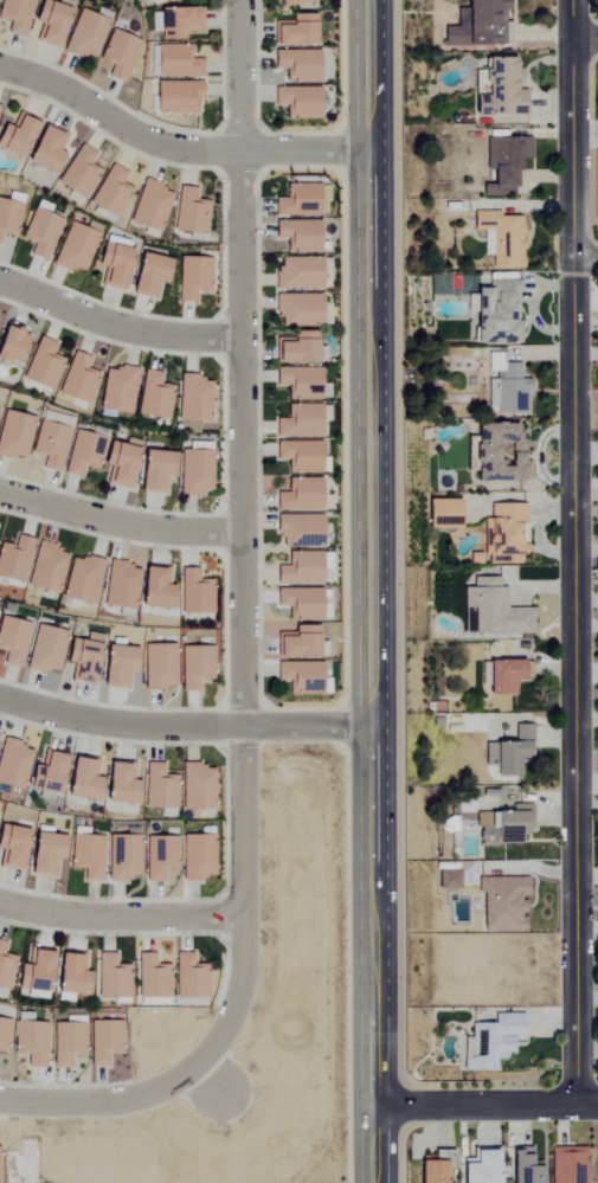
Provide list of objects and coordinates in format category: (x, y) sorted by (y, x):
building: (155, 1)
building: (291, 2)
building: (14, 15)
building: (47, 22)
building: (178, 22)
building: (480, 26)
building: (292, 31)
building: (84, 36)
road: (585, 37)
building: (117, 54)
building: (176, 62)
building: (296, 65)
road: (238, 75)
road: (366, 75)
building: (175, 97)
building: (296, 102)
building: (15, 136)
road: (173, 148)
building: (44, 152)
building: (504, 165)
building: (78, 173)
building: (110, 193)
building: (301, 201)
building: (149, 206)
building: (188, 212)
building: (9, 214)
building: (39, 233)
building: (296, 236)
building: (73, 249)
road: (585, 259)
building: (111, 265)
building: (147, 275)
building: (296, 275)
building: (191, 278)
building: (296, 309)
building: (493, 311)
road: (117, 317)
building: (9, 342)
building: (294, 347)
building: (41, 364)
building: (77, 378)
building: (117, 388)
building: (506, 390)
building: (154, 396)
building: (193, 398)
building: (297, 420)
building: (13, 433)
road: (239, 439)
building: (47, 444)
building: (500, 451)
building: (81, 452)
building: (298, 455)
building: (118, 462)
building: (193, 468)
building: (153, 469)
building: (298, 495)
building: (443, 514)
road: (118, 522)
building: (297, 531)
building: (503, 533)
road: (572, 552)
building: (13, 559)
building: (45, 567)
building: (298, 568)
building: (79, 579)
building: (120, 587)
building: (154, 587)
building: (194, 592)
building: (300, 602)
building: (494, 609)
building: (12, 641)
building: (296, 642)
building: (44, 649)
building: (81, 657)
building: (116, 663)
building: (157, 666)
building: (193, 666)
road: (368, 667)
building: (298, 676)
building: (502, 676)
road: (120, 724)
road: (304, 728)
building: (506, 741)
building: (12, 764)
building: (45, 774)
building: (81, 779)
building: (118, 783)
building: (195, 786)
building: (157, 787)
building: (482, 821)
building: (507, 827)
building: (11, 847)
building: (43, 850)
building: (84, 854)
building: (157, 856)
building: (195, 856)
building: (121, 857)
road: (240, 886)
building: (501, 904)
road: (118, 918)
building: (5, 967)
building: (33, 973)
building: (69, 977)
building: (110, 977)
building: (152, 977)
building: (188, 977)
building: (2, 1035)
building: (28, 1040)
building: (66, 1041)
building: (103, 1041)
building: (489, 1042)
road: (200, 1080)
road: (116, 1094)
road: (484, 1106)
building: (568, 1164)
building: (480, 1166)
building: (522, 1168)

